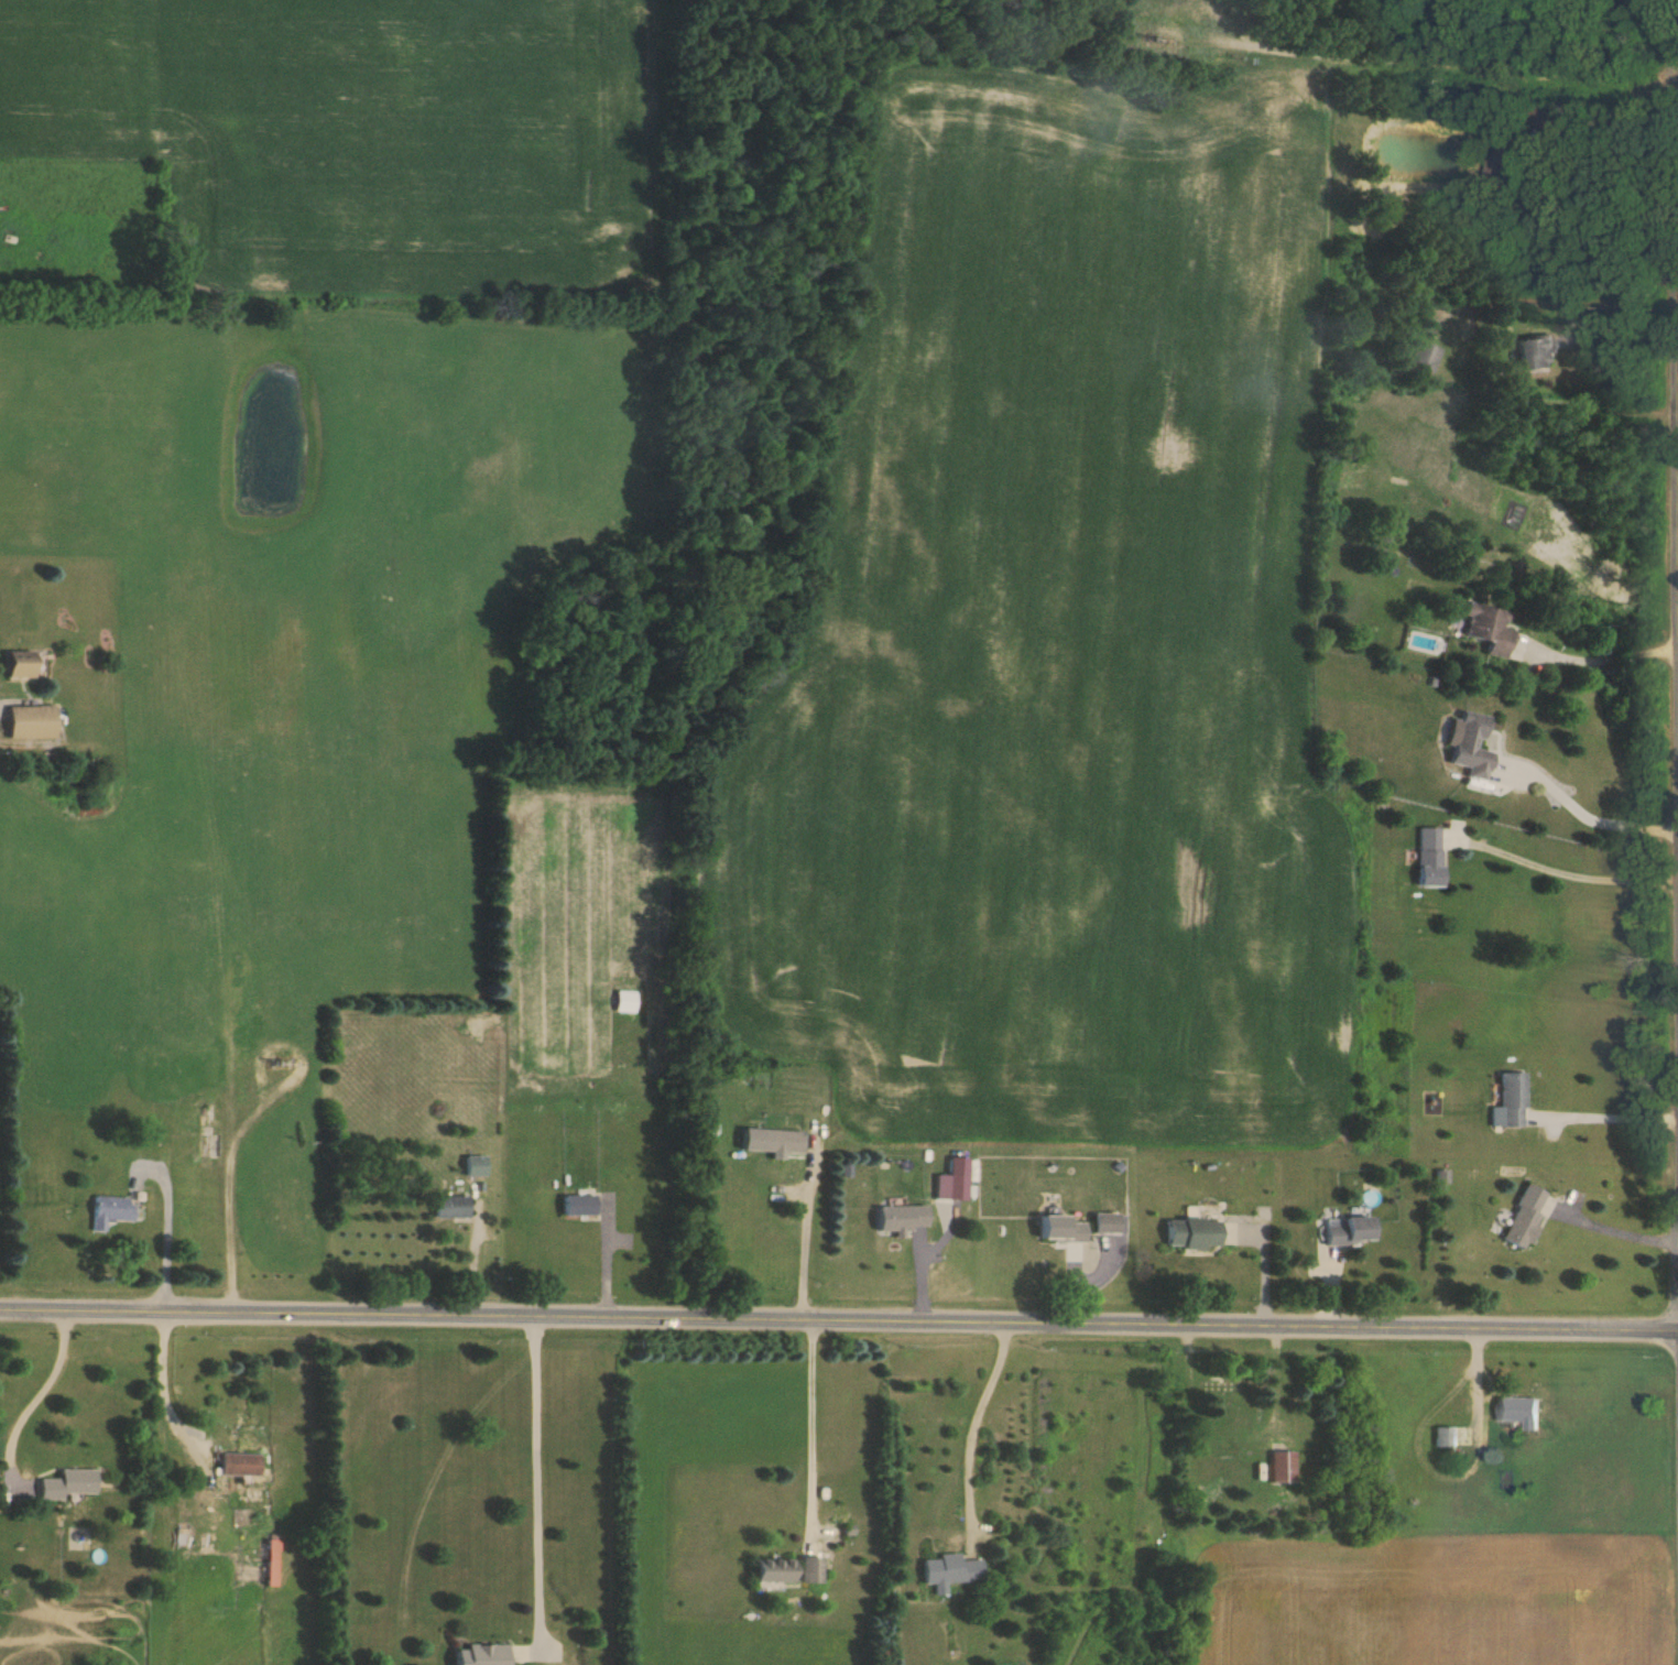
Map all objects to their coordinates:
building: (1543, 118)
building: (1497, 162)
road: (1621, 317)
building: (1533, 353)
building: (1423, 358)
building: (1484, 629)
road: (1605, 655)
building: (18, 665)
building: (29, 722)
building: (1468, 744)
road: (1586, 814)
building: (1429, 857)
road: (1563, 872)
building: (625, 1002)
building: (1512, 1100)
road: (1606, 1117)
building: (210, 1129)
building: (772, 1141)
building: (473, 1166)
building: (578, 1205)
building: (449, 1207)
road: (232, 1210)
building: (107, 1211)
road: (808, 1217)
building: (1525, 1217)
building: (901, 1218)
road: (167, 1220)
building: (1108, 1223)
building: (1063, 1229)
building: (1349, 1231)
building: (1194, 1232)
road: (476, 1248)
road: (608, 1250)
road: (841, 1284)
road: (838, 1302)
road: (1677, 1321)
road: (165, 1372)
building: (1221, 1385)
road: (46, 1389)
building: (1516, 1408)
road: (972, 1419)
road: (815, 1423)
building: (1446, 1436)
building: (239, 1463)
building: (1282, 1466)
road: (537, 1474)
building: (67, 1484)
building: (274, 1545)
building: (774, 1569)
building: (813, 1569)
building: (272, 1571)
building: (946, 1571)
building: (482, 1654)

